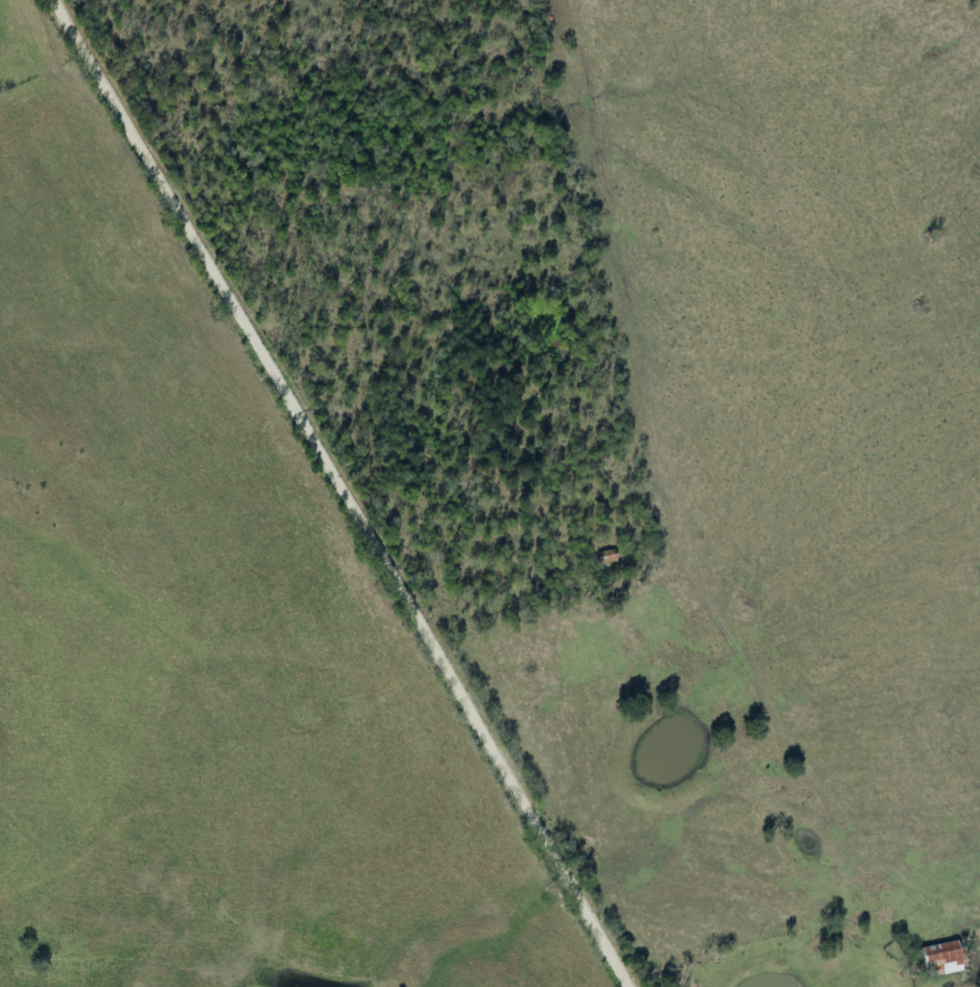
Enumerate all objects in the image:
road: (352, 491)
building: (942, 958)
road: (969, 979)

